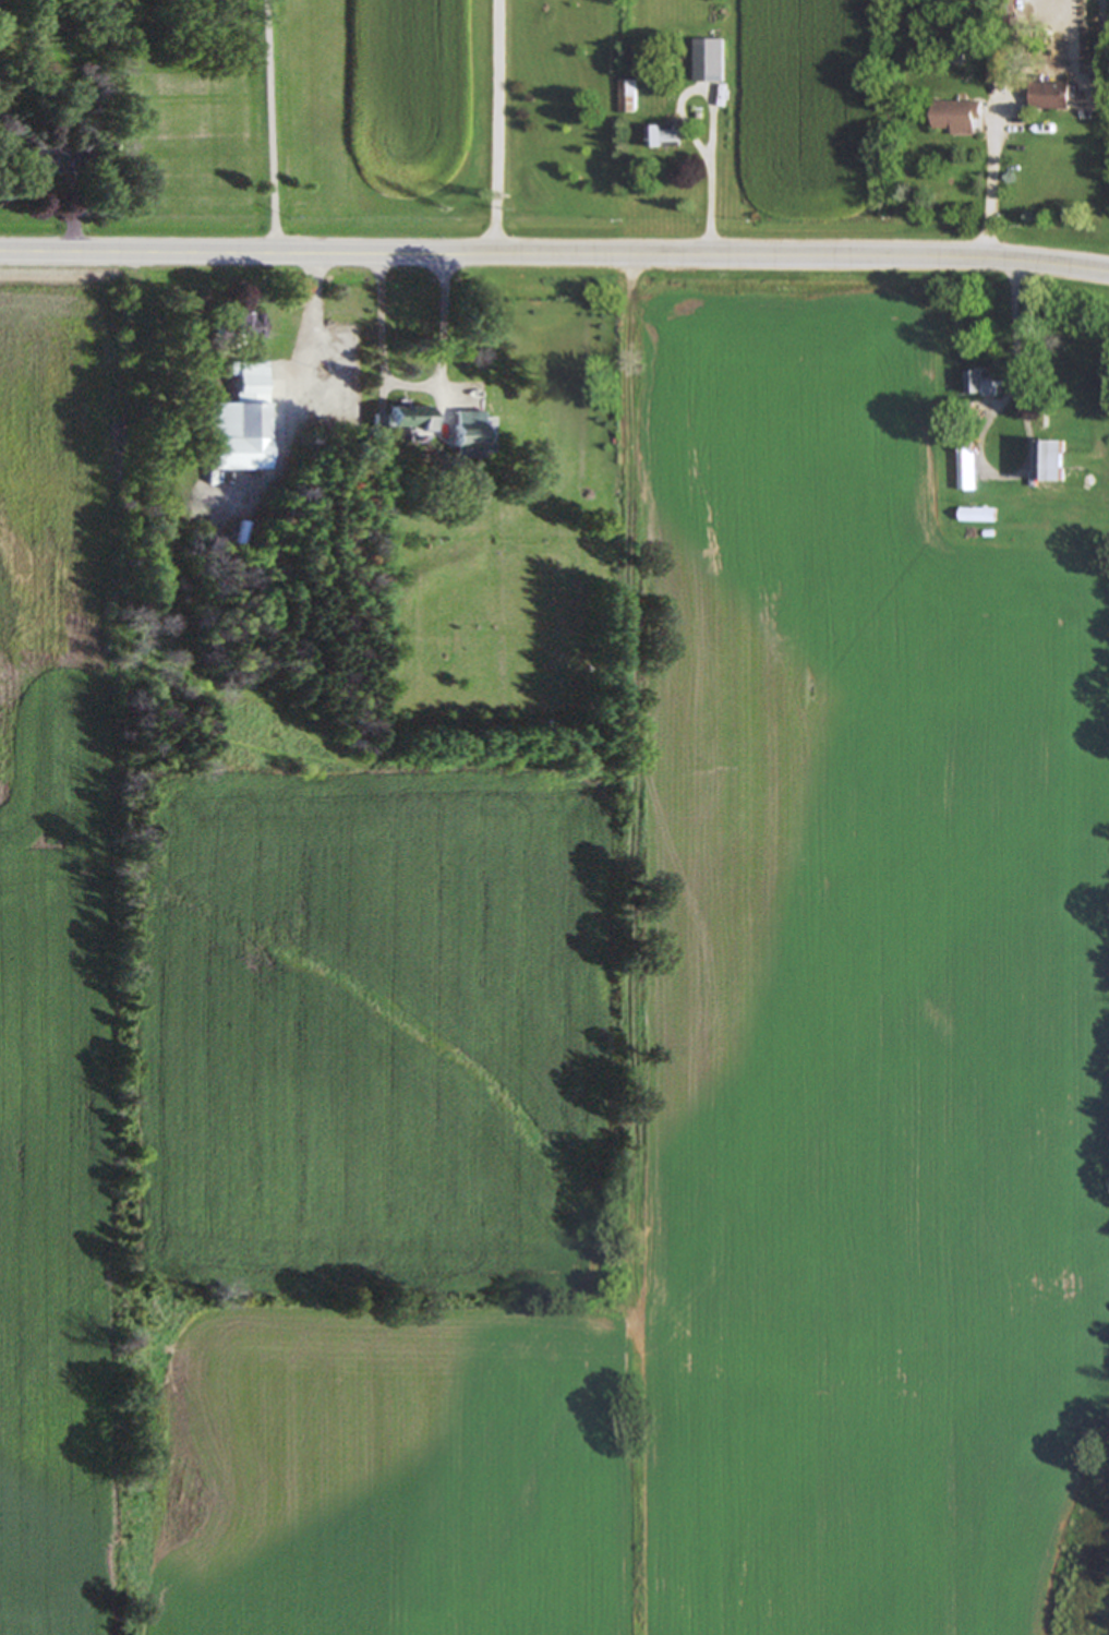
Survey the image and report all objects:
building: (995, 72)
building: (1050, 95)
building: (956, 117)
road: (272, 127)
road: (496, 128)
building: (50, 163)
road: (988, 188)
road: (710, 190)
road: (554, 256)
road: (310, 325)
building: (245, 328)
road: (1015, 356)
road: (412, 388)
building: (238, 418)
building: (411, 421)
building: (381, 424)
building: (471, 435)

